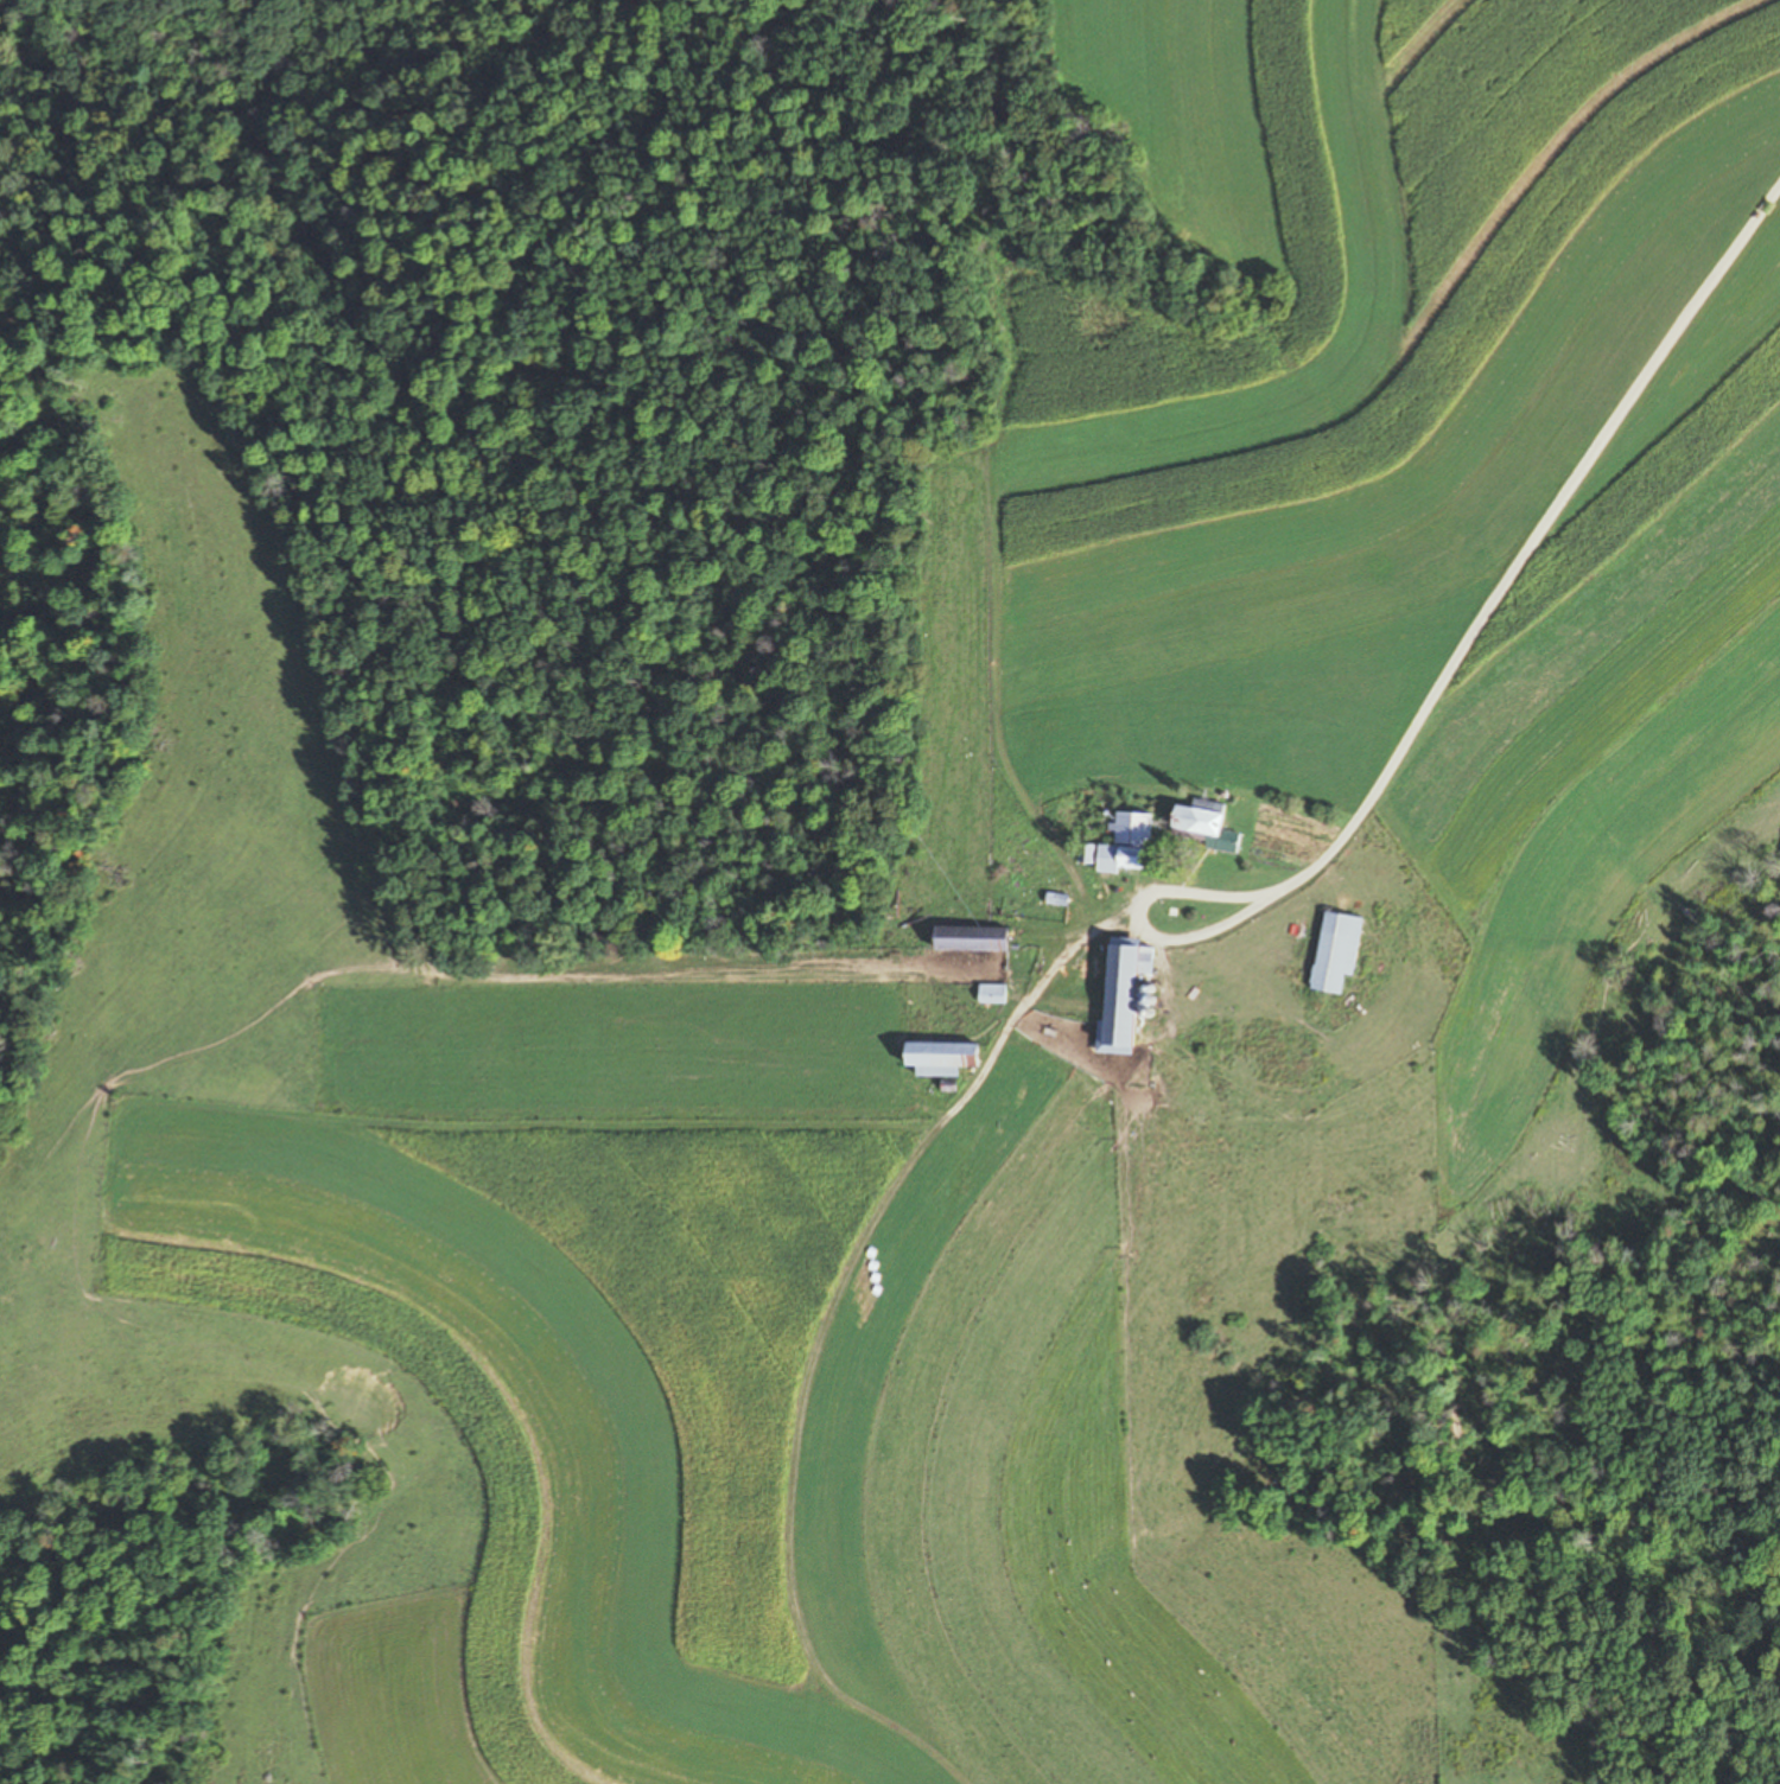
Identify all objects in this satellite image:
road: (1531, 555)
building: (1196, 821)
building: (1126, 845)
building: (1023, 872)
road: (1143, 919)
building: (971, 939)
building: (1335, 952)
building: (1121, 993)
building: (993, 994)
building: (940, 1058)

